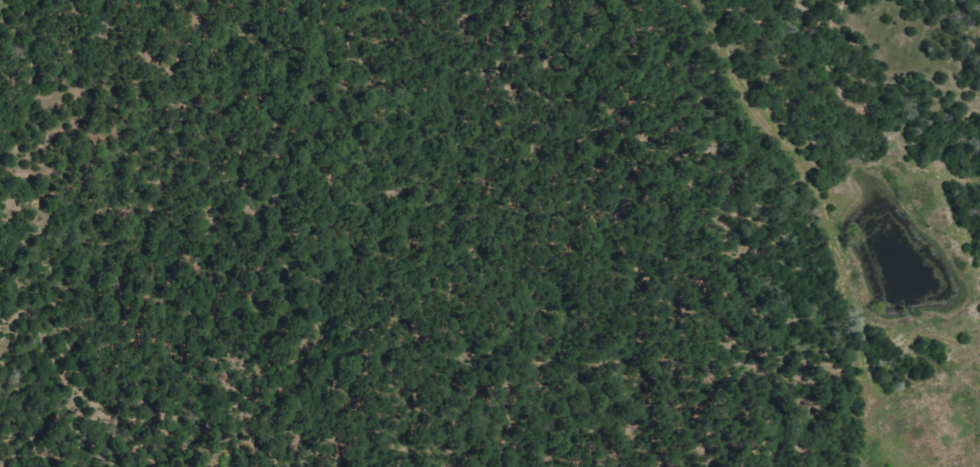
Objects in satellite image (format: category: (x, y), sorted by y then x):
road: (834, 224)

